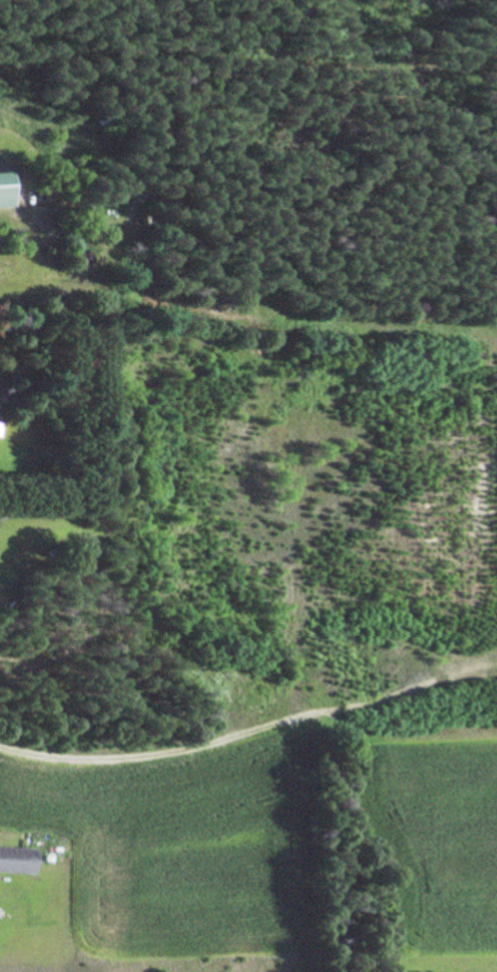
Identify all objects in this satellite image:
building: (13, 859)

